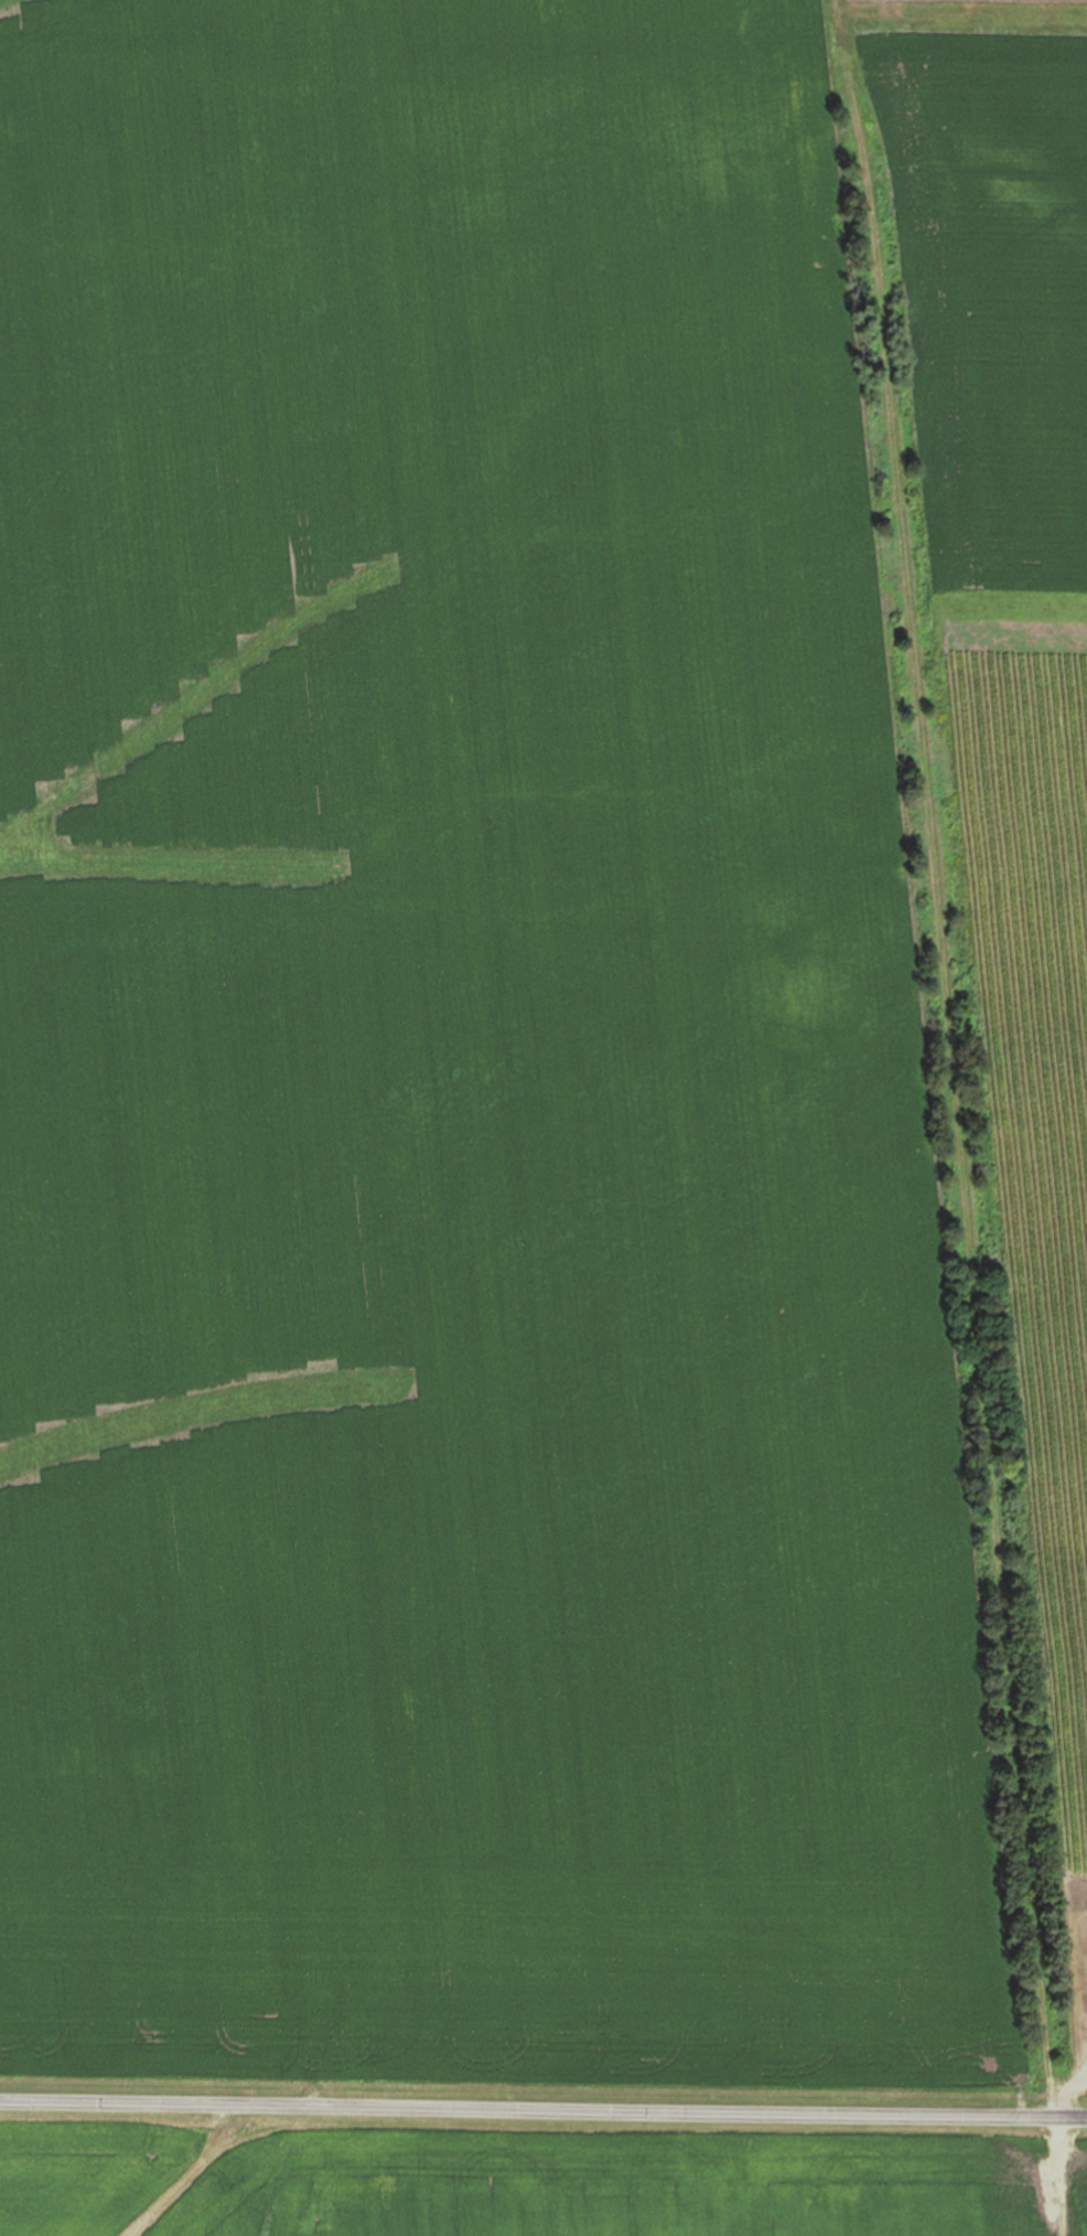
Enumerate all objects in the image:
road: (543, 2108)

